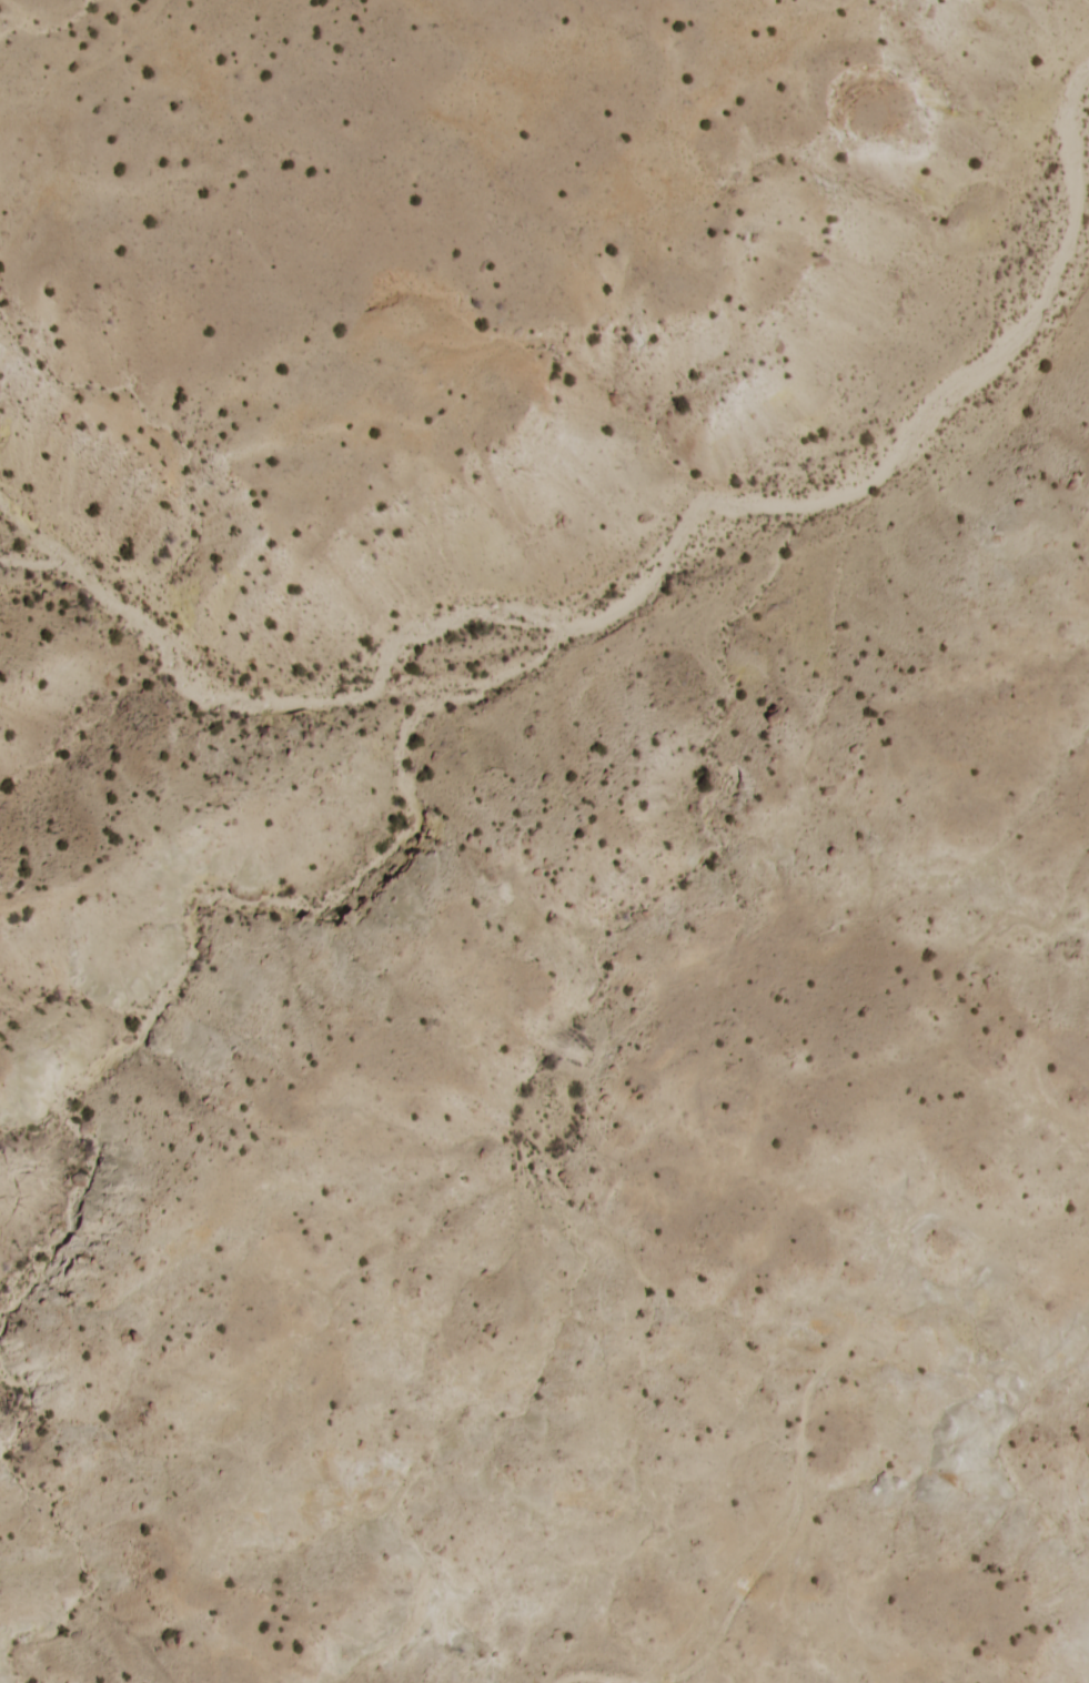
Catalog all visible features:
road: (810, 1441)

